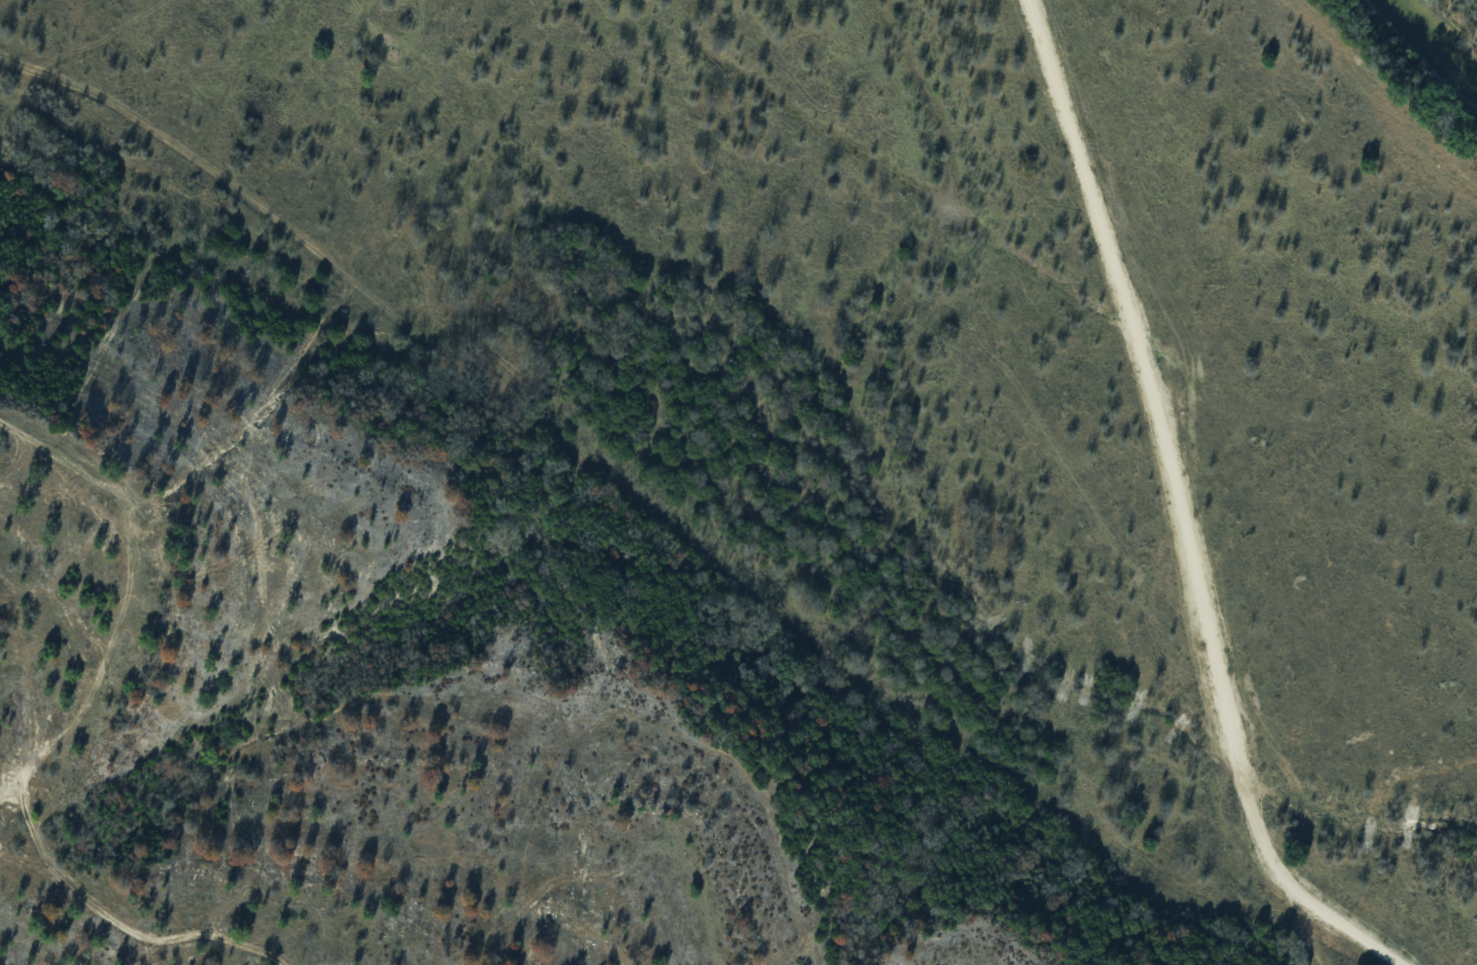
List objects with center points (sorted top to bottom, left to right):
river: (1432, 43)
road: (1184, 509)

